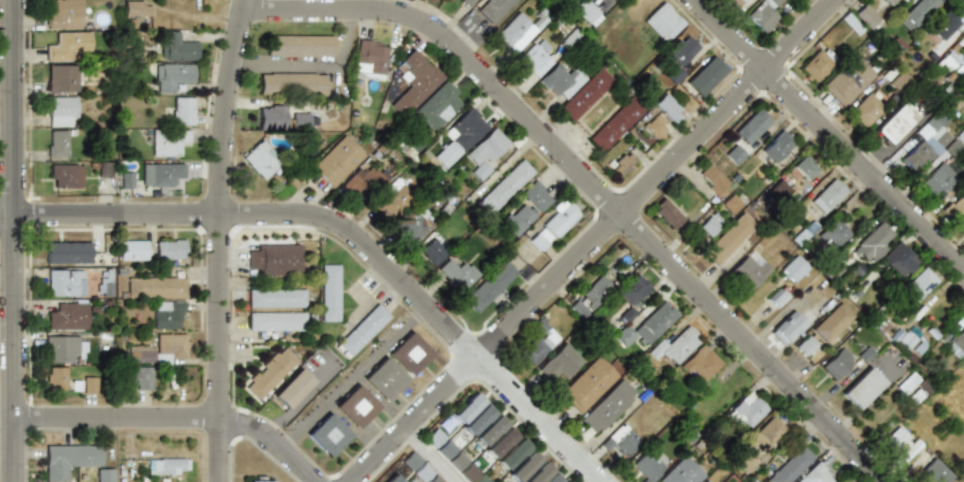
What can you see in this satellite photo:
building: (467, 2)
building: (740, 2)
building: (887, 2)
building: (137, 8)
building: (493, 9)
building: (583, 12)
building: (63, 13)
building: (915, 13)
building: (763, 14)
building: (865, 16)
building: (662, 22)
building: (850, 24)
building: (943, 25)
building: (517, 31)
building: (66, 45)
building: (299, 46)
building: (177, 47)
building: (680, 50)
building: (370, 57)
building: (534, 57)
building: (961, 59)
road: (313, 66)
building: (814, 66)
building: (673, 75)
building: (173, 76)
building: (704, 76)
building: (62, 78)
building: (415, 81)
building: (846, 81)
building: (292, 83)
building: (575, 88)
building: (959, 99)
building: (438, 106)
building: (667, 108)
building: (863, 110)
building: (61, 111)
building: (182, 111)
building: (273, 117)
building: (300, 121)
building: (616, 123)
building: (892, 123)
building: (750, 126)
building: (654, 128)
building: (465, 129)
road: (829, 136)
building: (169, 142)
building: (928, 142)
building: (56, 144)
building: (775, 147)
building: (486, 153)
building: (733, 155)
building: (262, 159)
building: (337, 161)
building: (622, 163)
building: (802, 167)
building: (105, 168)
building: (165, 173)
building: (65, 175)
building: (711, 178)
building: (126, 180)
building: (934, 180)
building: (365, 181)
road: (592, 184)
building: (506, 186)
building: (776, 191)
building: (824, 196)
building: (394, 199)
building: (730, 204)
building: (527, 208)
building: (955, 208)
building: (666, 214)
building: (414, 224)
building: (553, 224)
building: (708, 226)
building: (961, 226)
road: (350, 231)
building: (830, 233)
building: (727, 239)
building: (871, 239)
road: (219, 240)
road: (593, 240)
road: (14, 241)
building: (132, 248)
building: (169, 249)
building: (433, 251)
building: (67, 252)
building: (276, 258)
building: (896, 260)
building: (792, 266)
building: (748, 271)
building: (457, 273)
building: (64, 282)
building: (104, 286)
building: (489, 286)
building: (916, 286)
building: (155, 287)
building: (633, 289)
building: (595, 291)
building: (330, 292)
building: (776, 295)
building: (276, 297)
building: (579, 309)
building: (167, 314)
building: (68, 316)
building: (832, 320)
building: (276, 321)
road: (7, 324)
building: (787, 324)
building: (647, 326)
building: (362, 330)
building: (894, 333)
building: (906, 338)
building: (958, 341)
building: (540, 342)
building: (805, 343)
building: (677, 345)
building: (62, 348)
building: (158, 349)
building: (951, 349)
building: (409, 353)
building: (836, 361)
building: (561, 363)
building: (701, 363)
building: (269, 372)
building: (136, 377)
building: (56, 378)
building: (383, 378)
building: (589, 384)
building: (862, 384)
building: (90, 385)
building: (293, 387)
building: (354, 405)
building: (609, 407)
building: (466, 408)
building: (747, 410)
road: (176, 418)
building: (477, 419)
building: (490, 430)
building: (767, 433)
building: (327, 435)
building: (894, 437)
building: (625, 440)
building: (500, 443)
building: (445, 450)
road: (431, 455)
building: (511, 455)
building: (69, 459)
building: (457, 461)
building: (647, 465)
building: (168, 466)
building: (523, 466)
building: (791, 466)
building: (416, 467)
building: (468, 472)
building: (682, 472)
building: (934, 472)
building: (537, 474)
building: (105, 475)
building: (815, 475)
building: (554, 478)
building: (392, 479)
building: (434, 479)
building: (259, 481)

